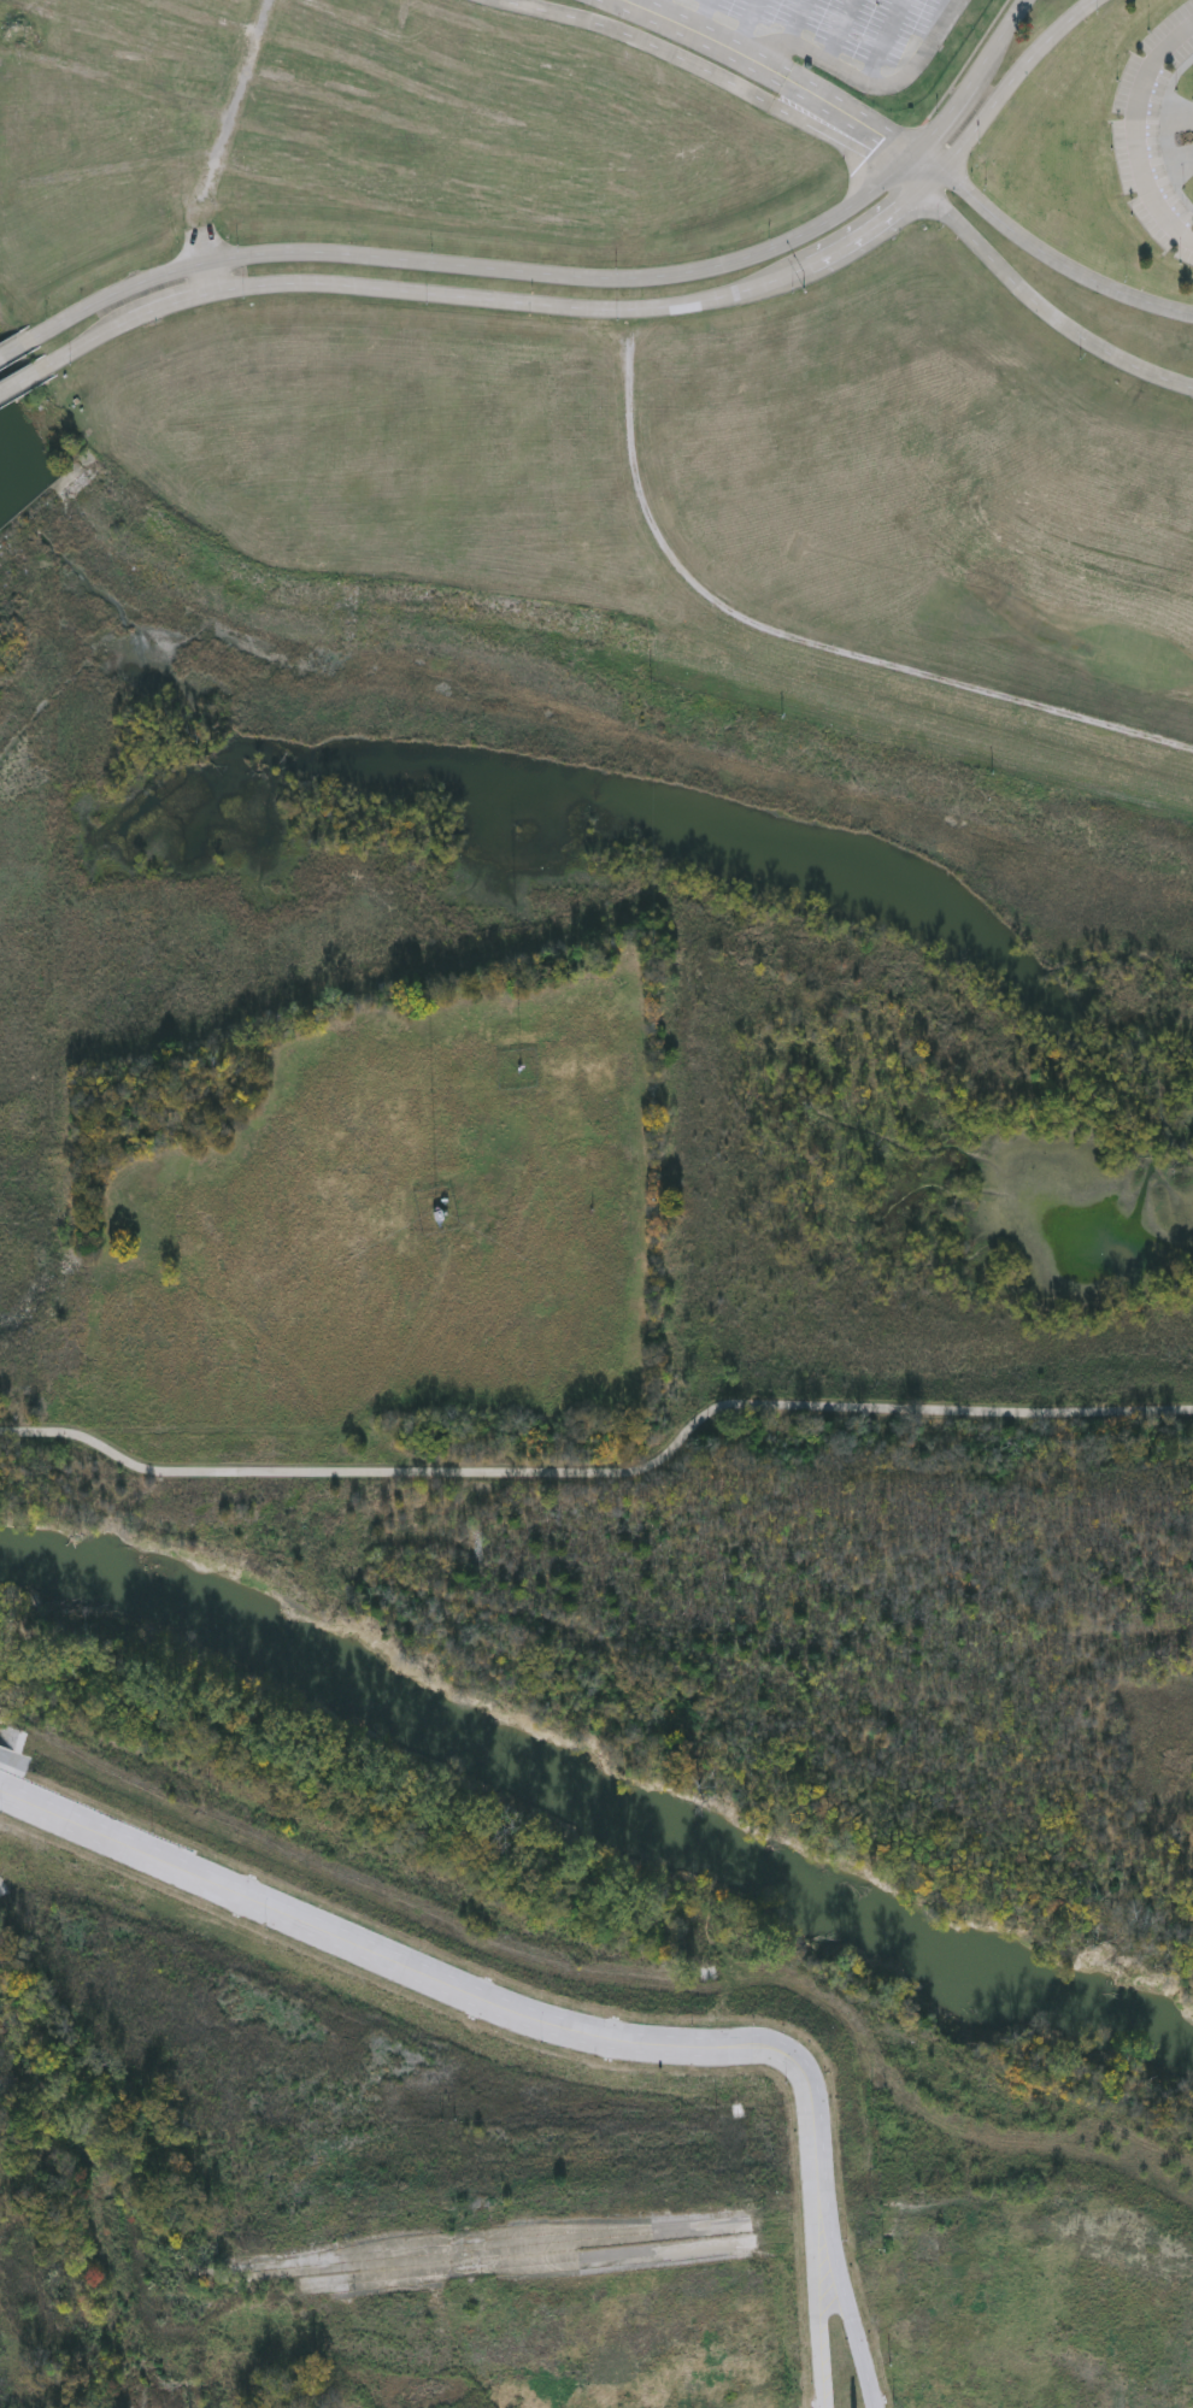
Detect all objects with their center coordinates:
road: (658, 7)
road: (704, 16)
road: (944, 22)
road: (798, 23)
parking lot: (836, 24)
road: (746, 25)
parking lot: (1166, 27)
road: (840, 31)
road: (885, 42)
parking lot: (1182, 53)
road: (968, 63)
road: (772, 70)
road: (707, 71)
road: (1017, 81)
road: (866, 86)
road: (1140, 130)
parking lot: (1151, 157)
road: (1044, 253)
road: (581, 275)
road: (1032, 295)
road: (509, 299)
road: (20, 345)
road: (28, 378)
road: (604, 1471)
river: (599, 1791)
road: (463, 1990)
road: (824, 2310)
road: (848, 2310)

